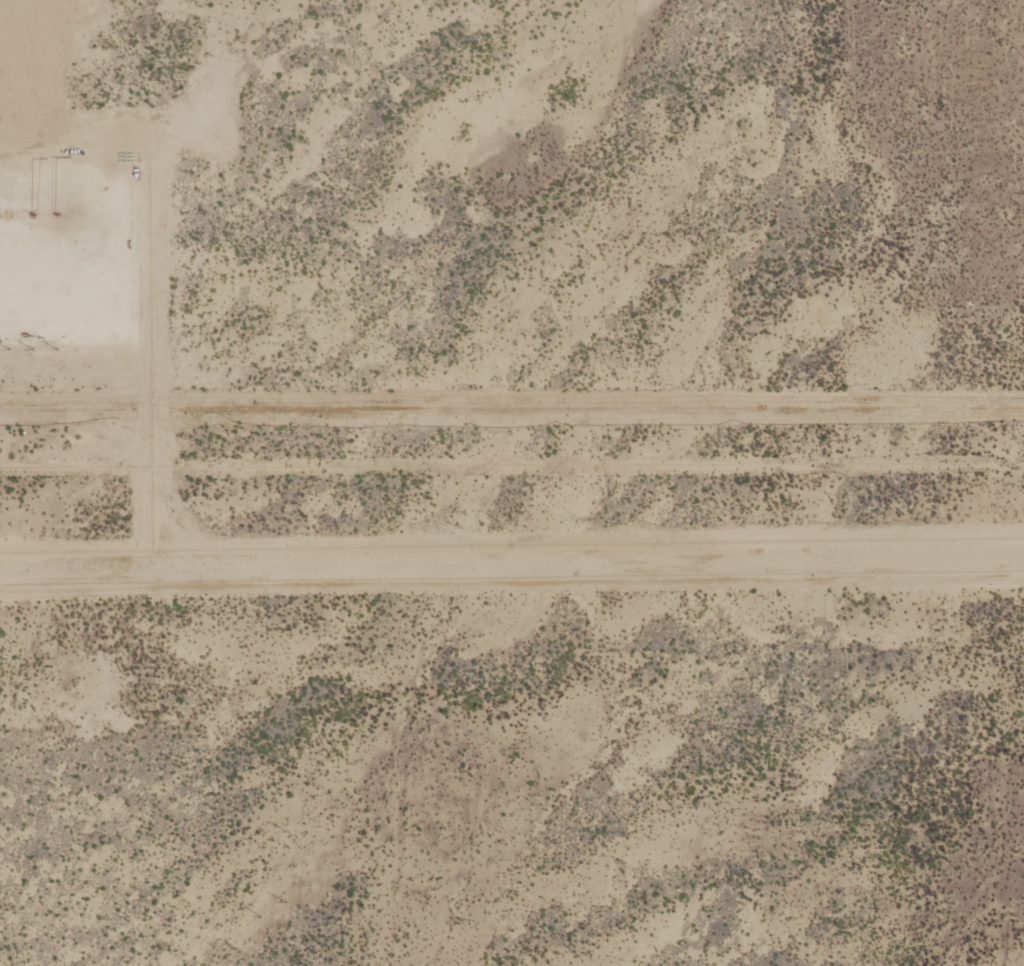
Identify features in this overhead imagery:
road: (659, 52)

